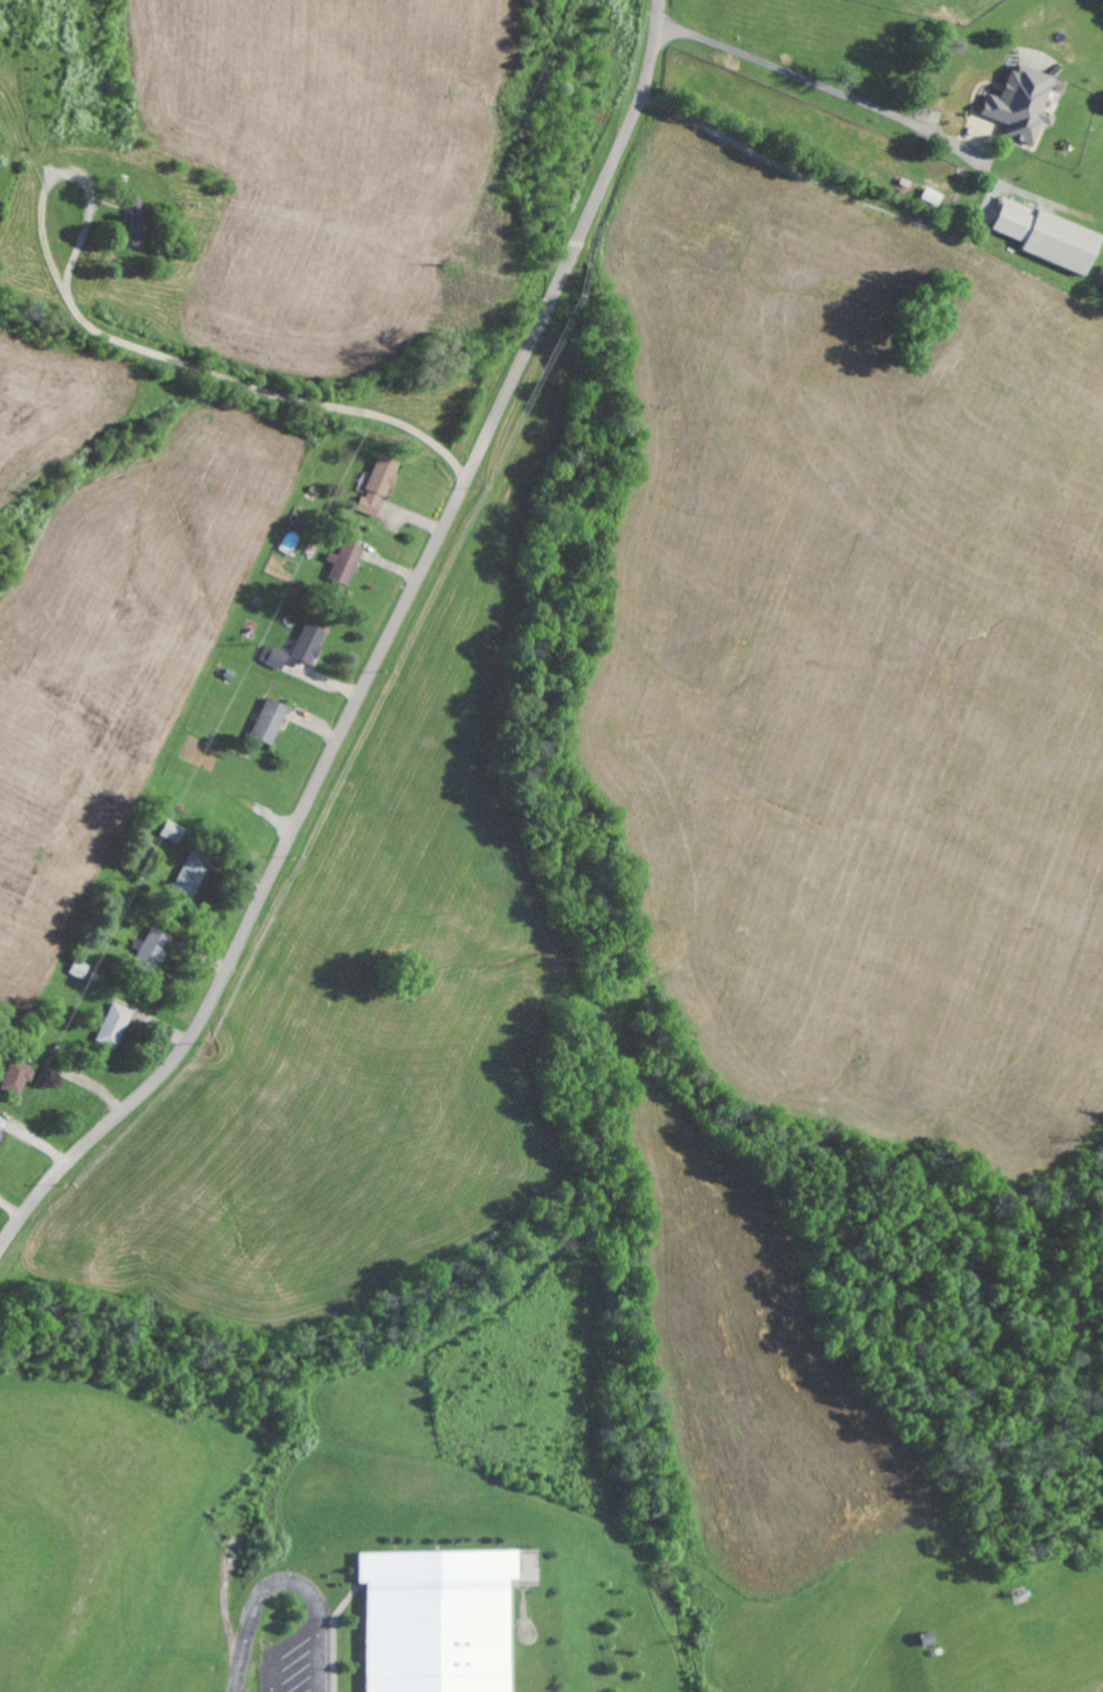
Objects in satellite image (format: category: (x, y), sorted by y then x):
road: (862, 102)
building: (1025, 103)
building: (138, 220)
building: (1053, 235)
road: (230, 330)
building: (379, 485)
building: (346, 560)
building: (309, 643)
road: (380, 654)
building: (275, 656)
building: (272, 719)
building: (175, 831)
building: (193, 873)
building: (156, 948)
building: (81, 968)
building: (116, 1024)
building: (19, 1076)
building: (0, 1129)
road: (285, 1581)
building: (441, 1619)
road: (296, 1638)
road: (272, 1673)

